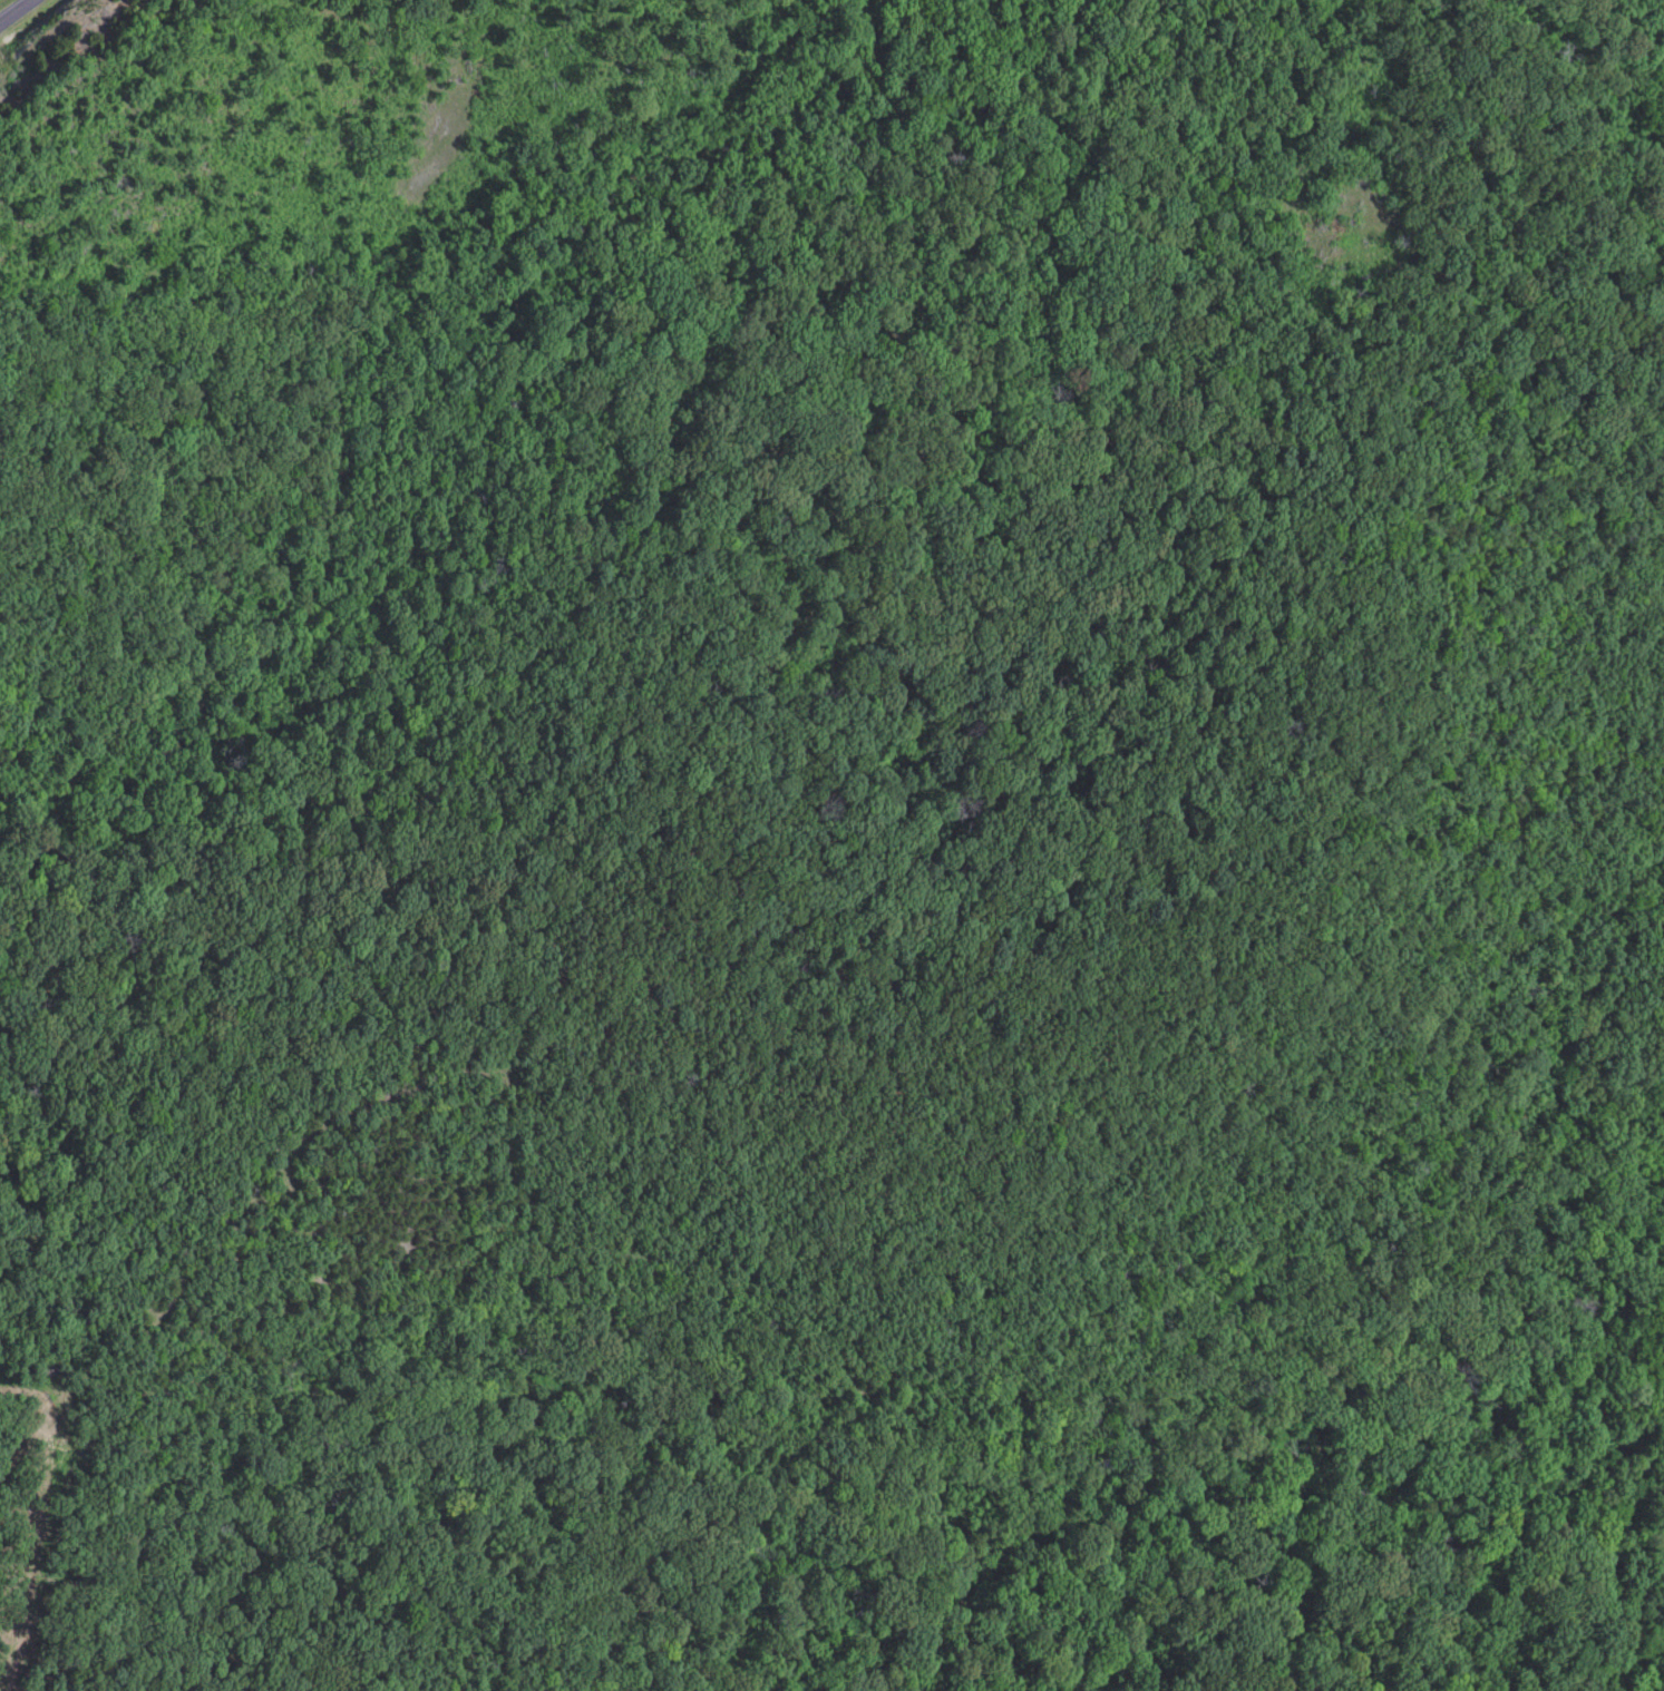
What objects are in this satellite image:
road: (20, 16)

